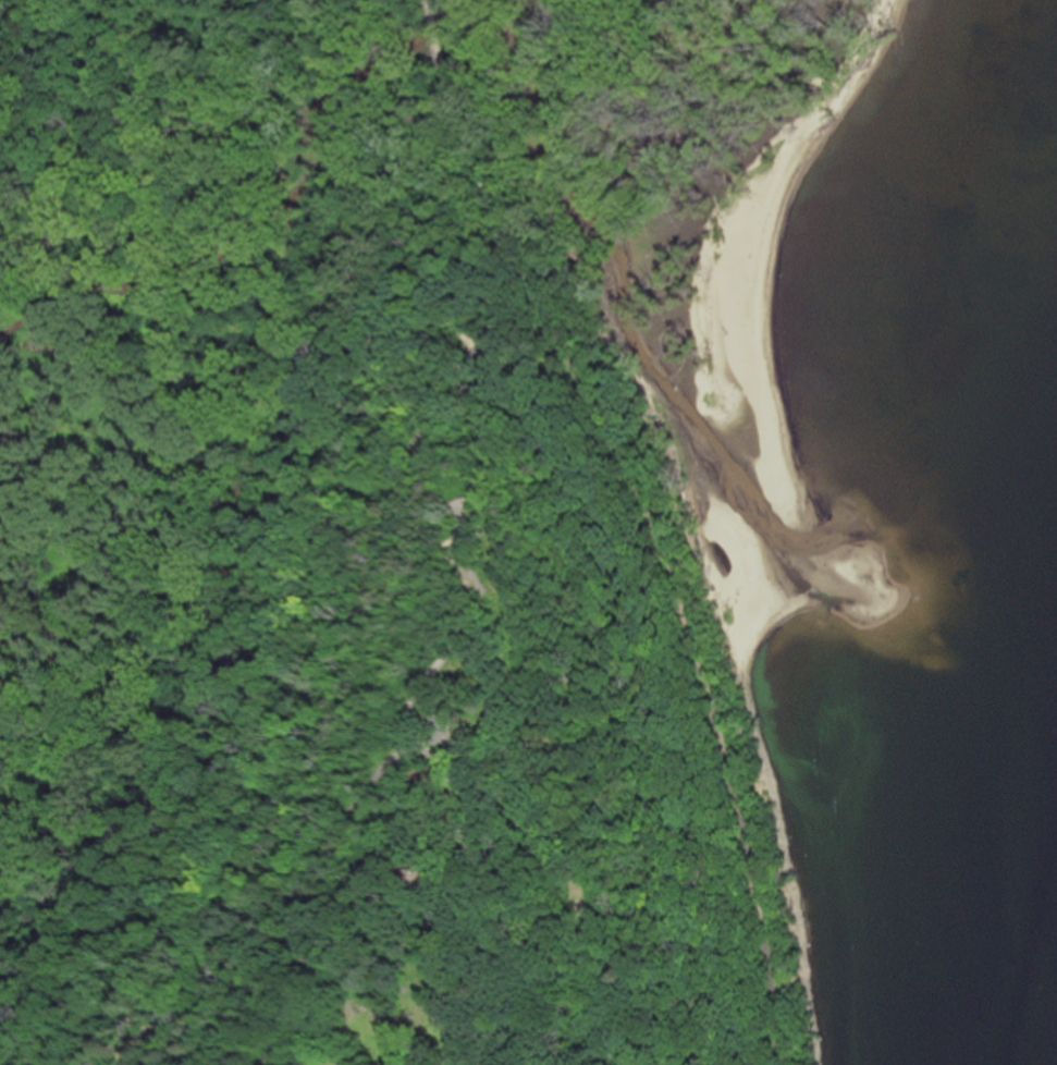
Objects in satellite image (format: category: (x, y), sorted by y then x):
road: (430, 2)
road: (441, 48)
road: (474, 157)
road: (369, 183)
park: (406, 527)
road: (466, 535)
road: (695, 625)
road: (453, 629)
road: (151, 972)
road: (127, 1054)

